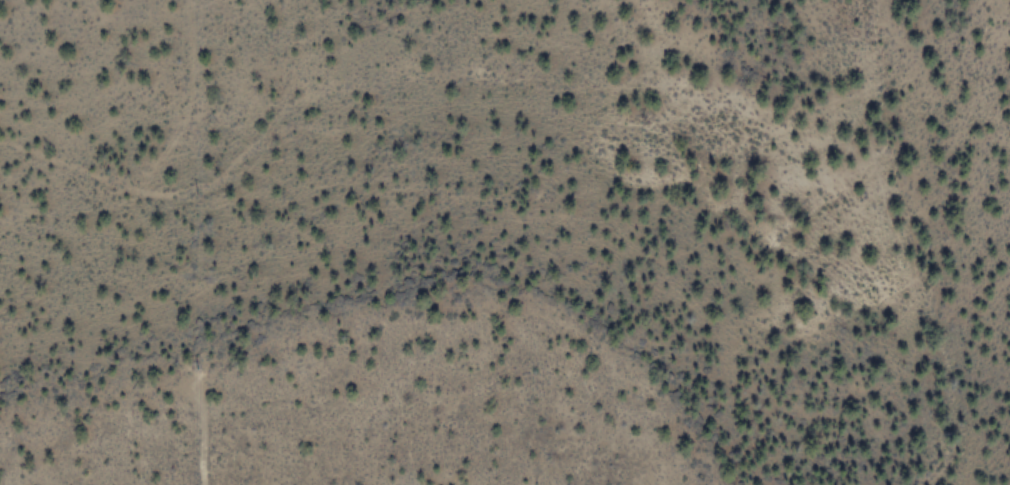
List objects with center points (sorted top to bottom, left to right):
road: (201, 432)

